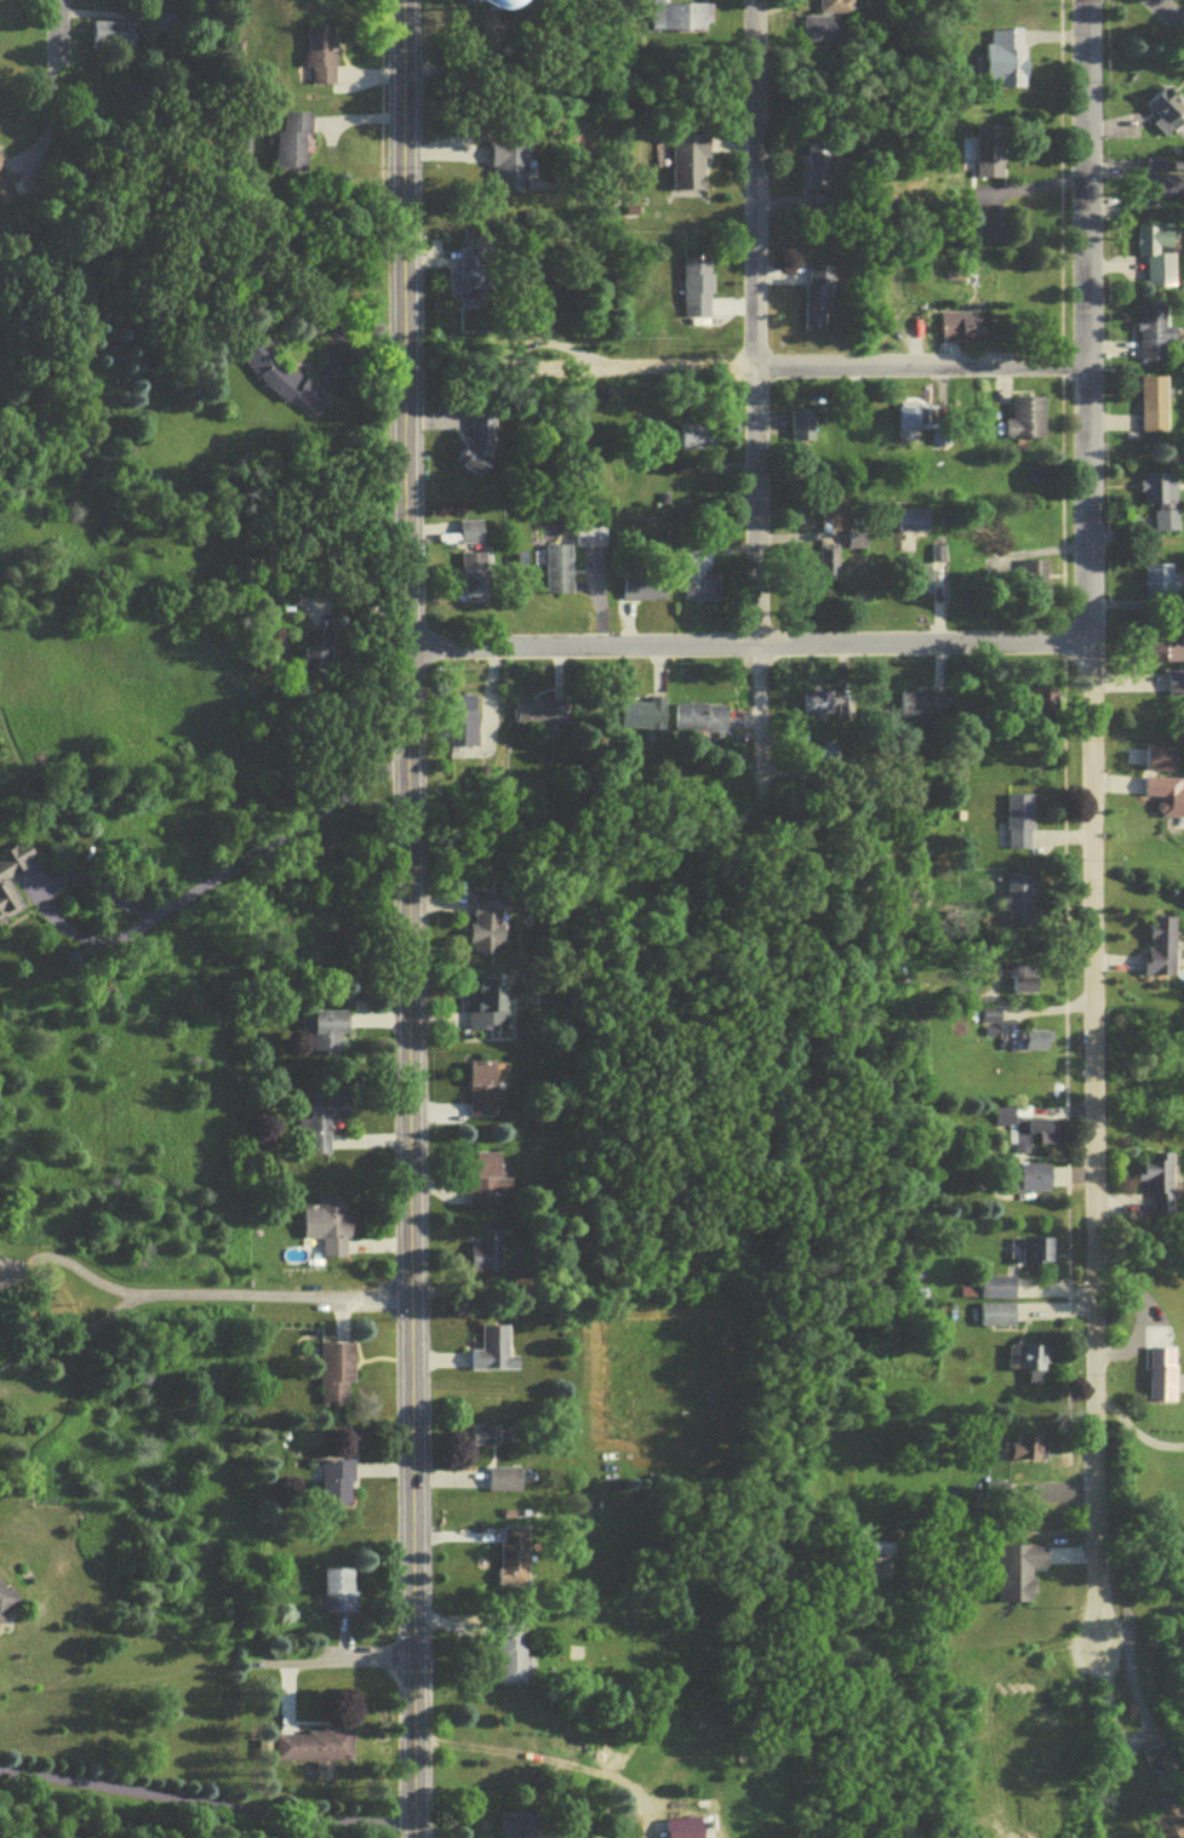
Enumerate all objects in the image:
building: (517, 8)
building: (829, 10)
road: (1163, 19)
building: (674, 21)
road: (56, 33)
building: (820, 36)
building: (113, 41)
building: (322, 61)
building: (1003, 63)
building: (1166, 118)
building: (293, 148)
building: (989, 160)
building: (690, 168)
building: (513, 170)
building: (818, 173)
building: (1154, 187)
building: (6, 191)
building: (1159, 260)
building: (476, 282)
building: (697, 287)
building: (817, 304)
building: (961, 333)
building: (1154, 339)
road: (851, 370)
building: (288, 385)
road: (753, 402)
building: (1154, 410)
building: (906, 423)
building: (1026, 424)
building: (800, 430)
building: (938, 430)
building: (697, 442)
building: (484, 447)
building: (1161, 504)
building: (911, 526)
building: (474, 538)
building: (591, 542)
building: (560, 573)
building: (477, 582)
building: (920, 584)
building: (1160, 584)
building: (1035, 585)
building: (644, 590)
building: (699, 592)
building: (1163, 647)
road: (921, 649)
road: (582, 653)
building: (321, 658)
building: (1174, 687)
building: (1043, 708)
building: (921, 709)
building: (816, 711)
building: (534, 717)
building: (641, 720)
building: (697, 723)
building: (464, 732)
building: (1160, 763)
building: (1166, 800)
road: (1088, 825)
building: (1018, 826)
road: (265, 849)
road: (51, 886)
building: (8, 898)
building: (1018, 905)
road: (411, 918)
building: (487, 929)
building: (1160, 951)
building: (1020, 980)
road: (1036, 1007)
building: (488, 1010)
building: (991, 1021)
building: (330, 1036)
building: (485, 1094)
building: (320, 1129)
building: (1025, 1132)
building: (487, 1180)
building: (1034, 1183)
building: (1157, 1189)
building: (330, 1231)
building: (1037, 1255)
building: (488, 1256)
building: (996, 1293)
road: (270, 1300)
road: (125, 1306)
building: (995, 1319)
building: (496, 1356)
building: (1026, 1363)
building: (1162, 1379)
building: (337, 1380)
road: (1134, 1433)
building: (486, 1441)
building: (1024, 1451)
building: (505, 1485)
building: (338, 1489)
building: (515, 1563)
building: (1019, 1576)
building: (341, 1596)
building: (7, 1607)
building: (511, 1660)
road: (334, 1661)
road: (1123, 1666)
building: (315, 1751)
road: (206, 1798)
building: (1166, 1822)
building: (521, 1827)

